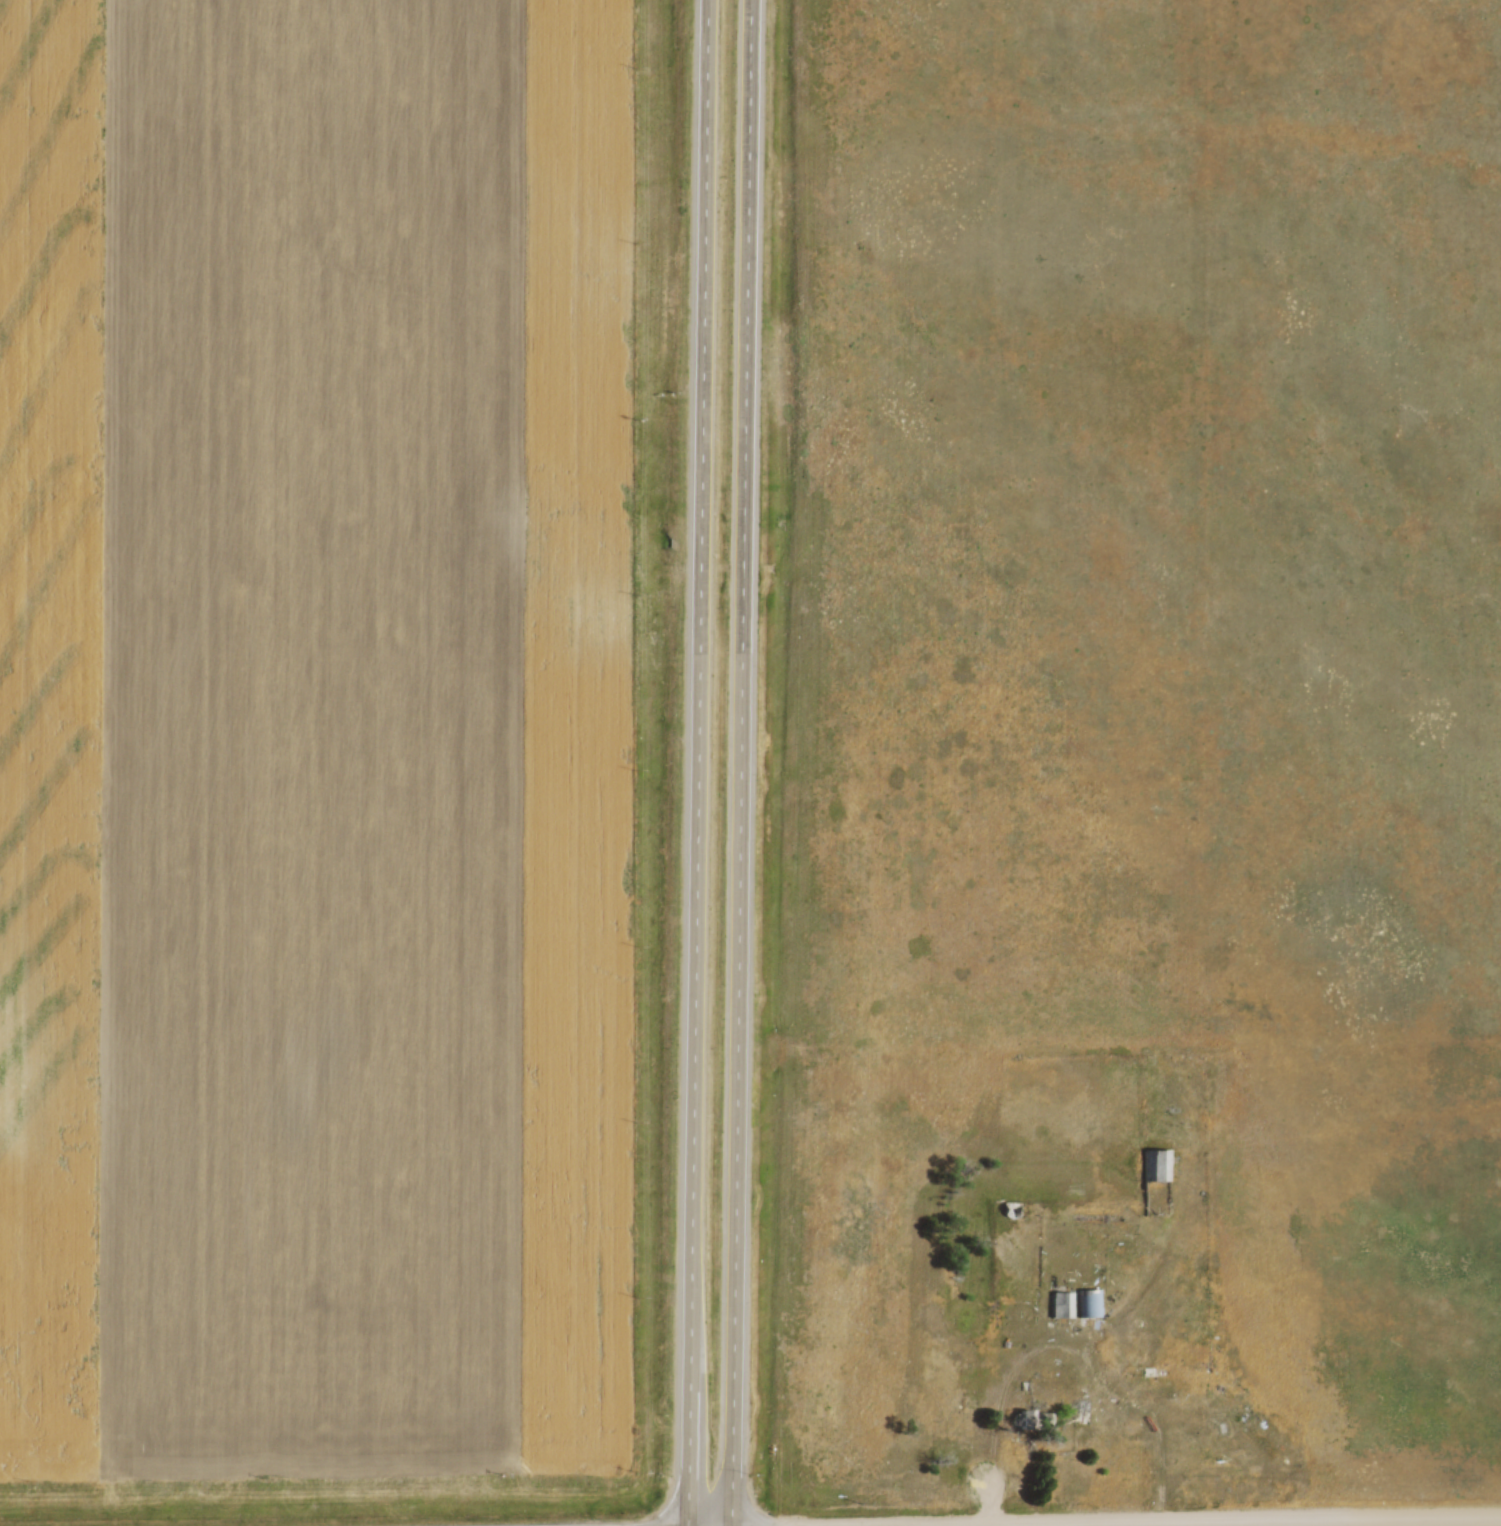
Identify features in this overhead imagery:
crop: (315, 734)
road: (743, 762)
road: (700, 763)
building: (1157, 1163)
building: (1012, 1206)
building: (1090, 1301)
building: (1062, 1303)
road: (1069, 1350)
building: (1033, 1418)
road: (1331, 1523)

